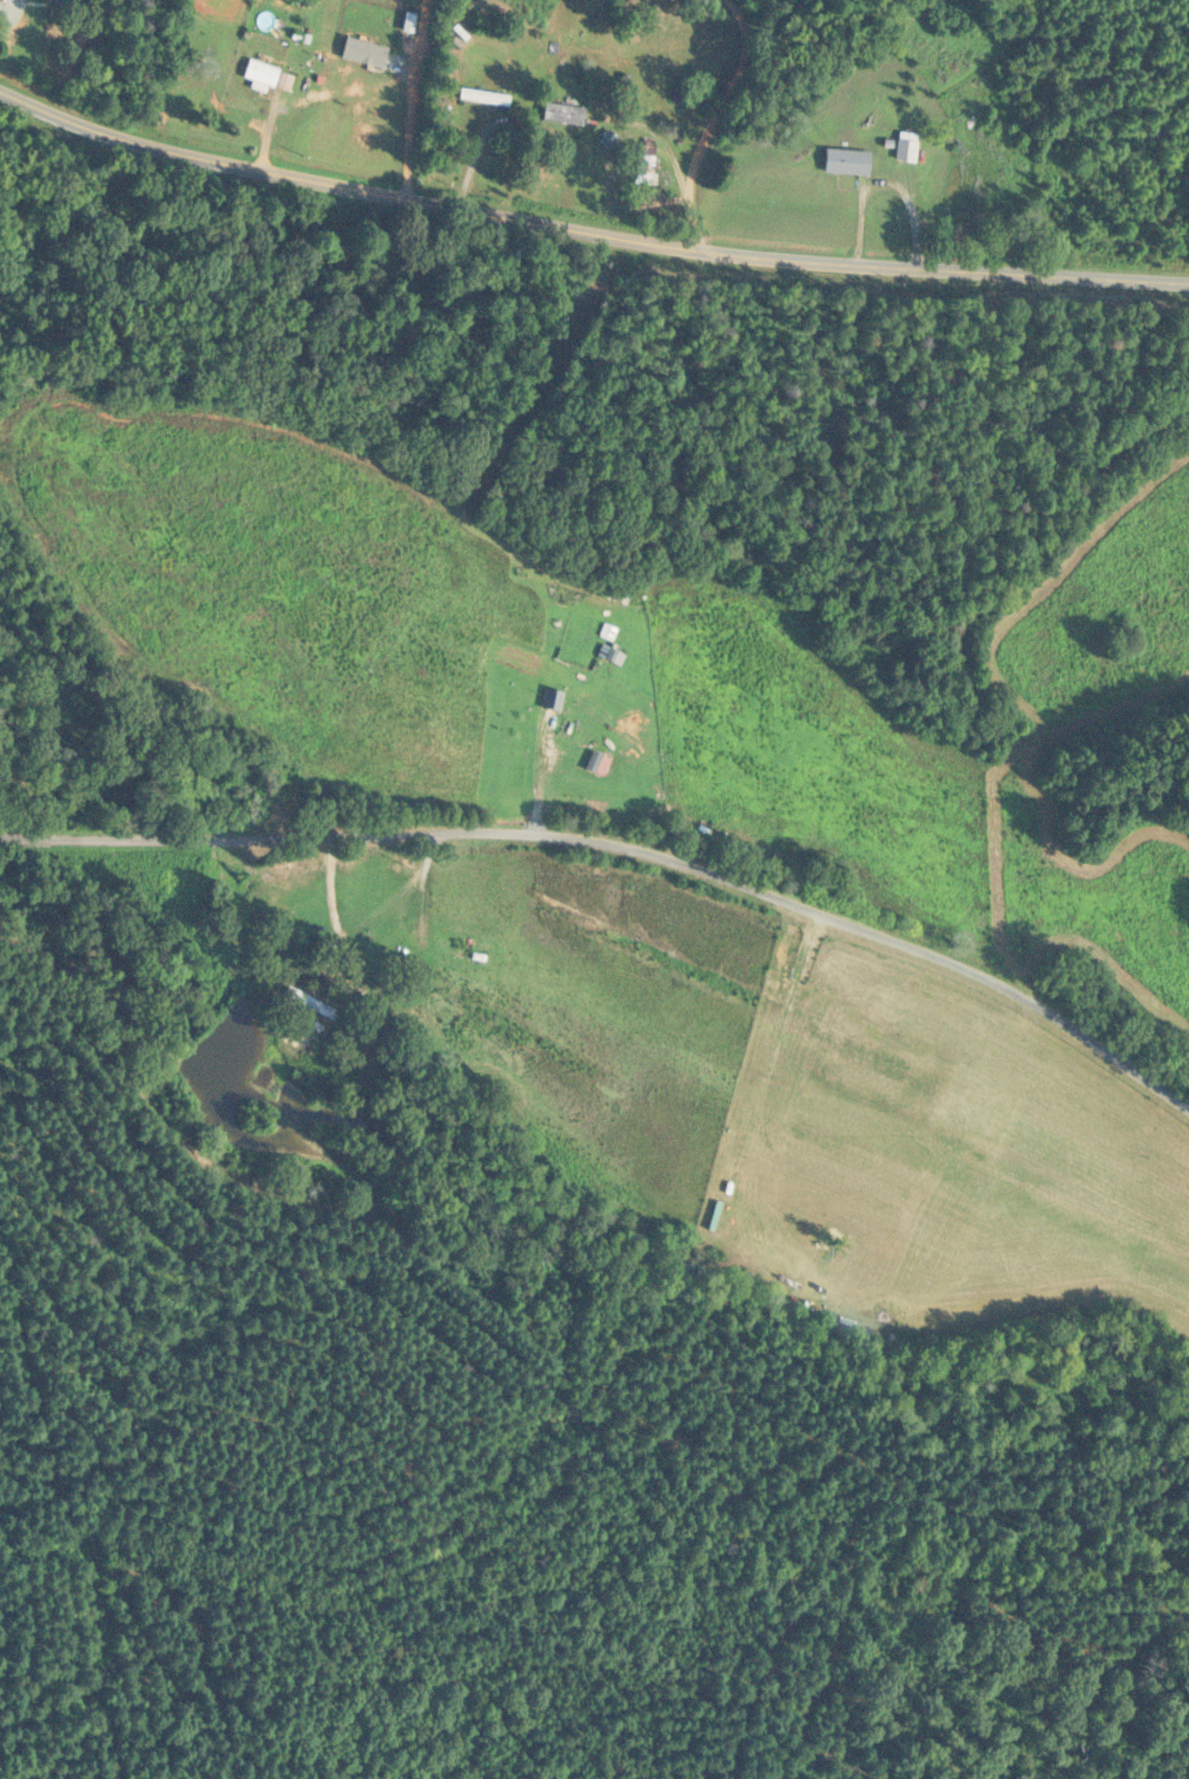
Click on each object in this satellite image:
building: (54, 1)
building: (259, 74)
building: (484, 97)
road: (412, 100)
building: (563, 115)
building: (906, 146)
building: (645, 162)
building: (846, 162)
road: (586, 233)
road: (623, 849)
building: (723, 988)
building: (318, 1008)
building: (532, 1041)
airport runway: (824, 1074)

